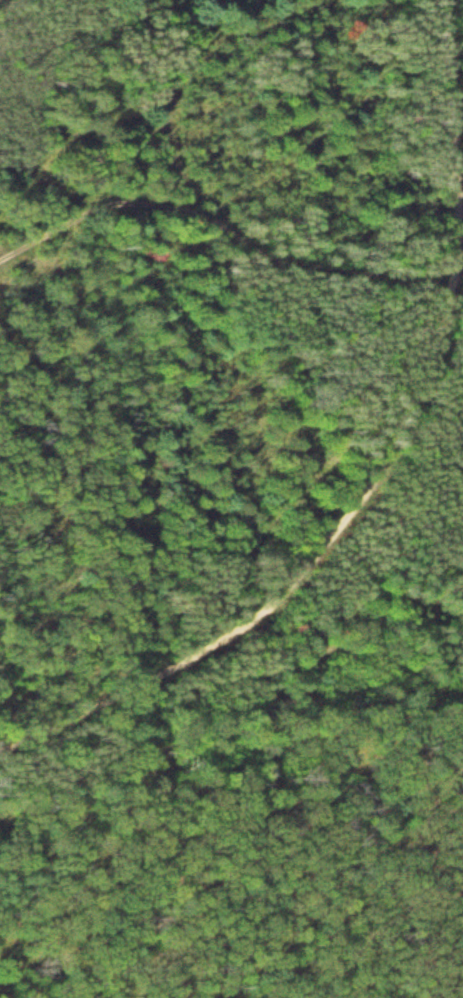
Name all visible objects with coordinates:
road: (381, 468)
road: (45, 644)

